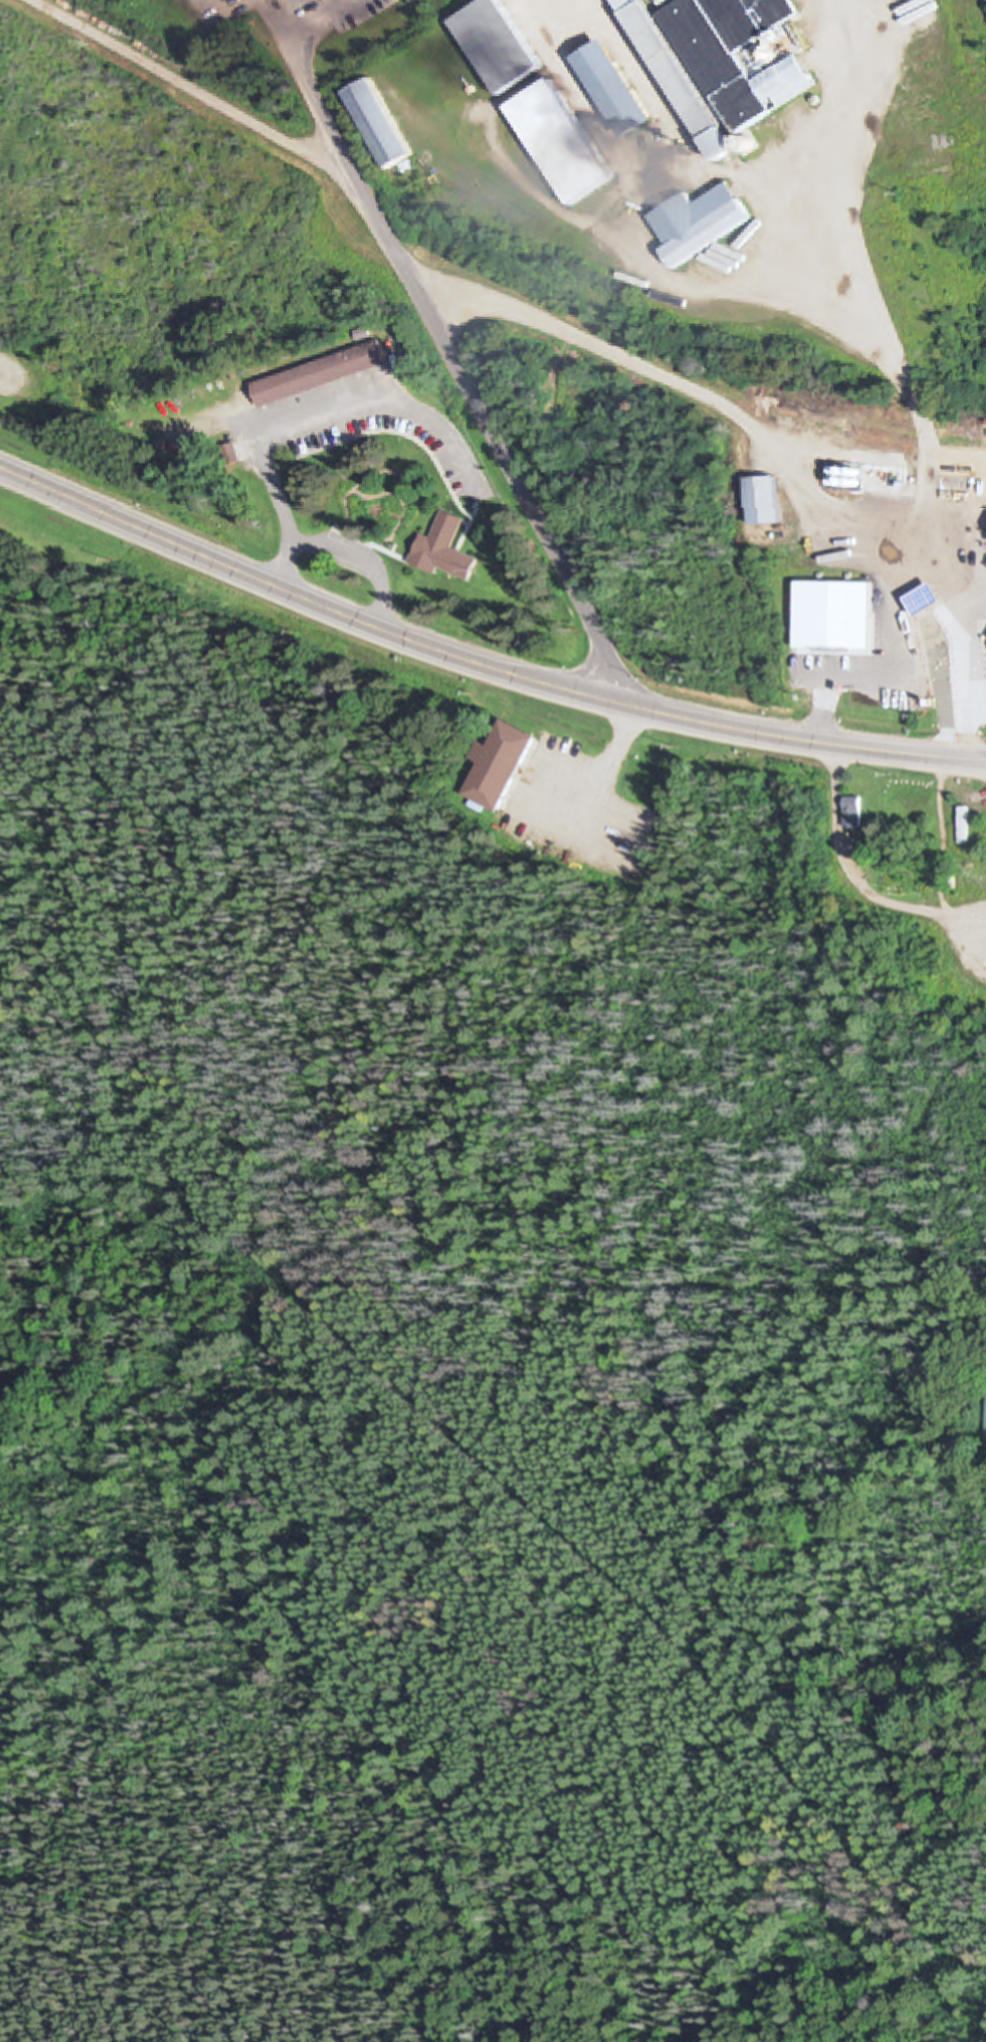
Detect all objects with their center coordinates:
road: (296, 27)
building: (497, 45)
road: (968, 52)
building: (738, 55)
building: (677, 76)
building: (613, 88)
road: (198, 91)
building: (378, 124)
building: (561, 142)
building: (699, 223)
road: (457, 365)
building: (321, 374)
road: (901, 376)
road: (692, 392)
road: (334, 419)
building: (231, 455)
building: (762, 501)
building: (444, 549)
road: (344, 550)
building: (922, 599)
building: (832, 614)
road: (478, 663)
road: (856, 674)
road: (611, 752)
building: (497, 764)
building: (850, 812)
building: (961, 823)
building: (600, 828)
building: (562, 838)
road: (850, 885)

